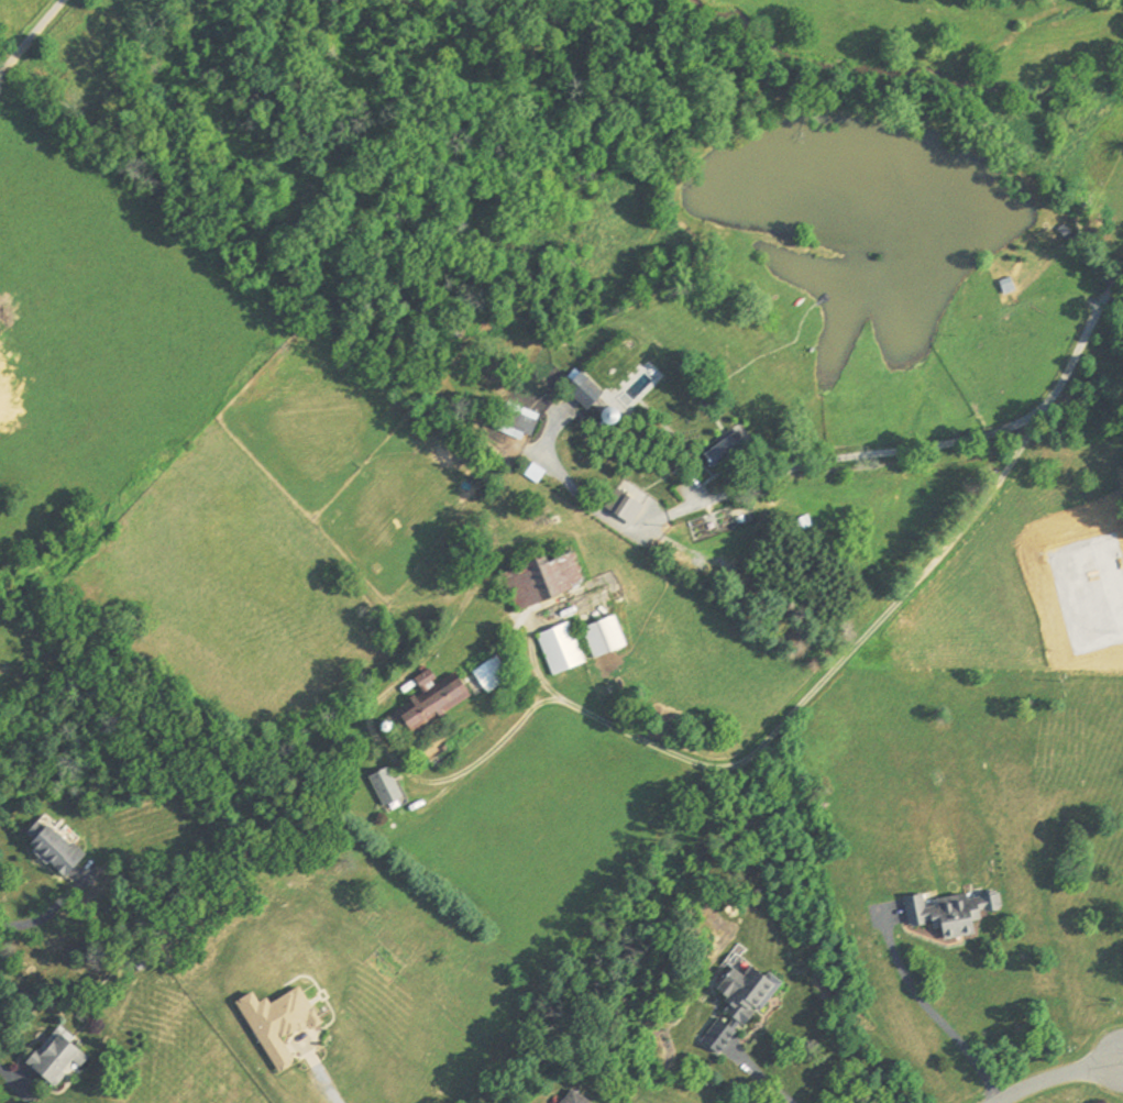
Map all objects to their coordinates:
road: (31, 38)
building: (581, 394)
building: (515, 424)
road: (935, 445)
building: (722, 452)
building: (541, 578)
building: (601, 636)
building: (558, 648)
road: (832, 670)
building: (489, 677)
building: (431, 704)
building: (383, 785)
building: (51, 846)
road: (48, 913)
building: (745, 993)
road: (932, 1014)
building: (47, 1060)
road: (1122, 1063)
road: (1122, 1065)
road: (5, 1072)
road: (1064, 1081)
road: (768, 1083)
road: (329, 1088)
building: (572, 1098)

